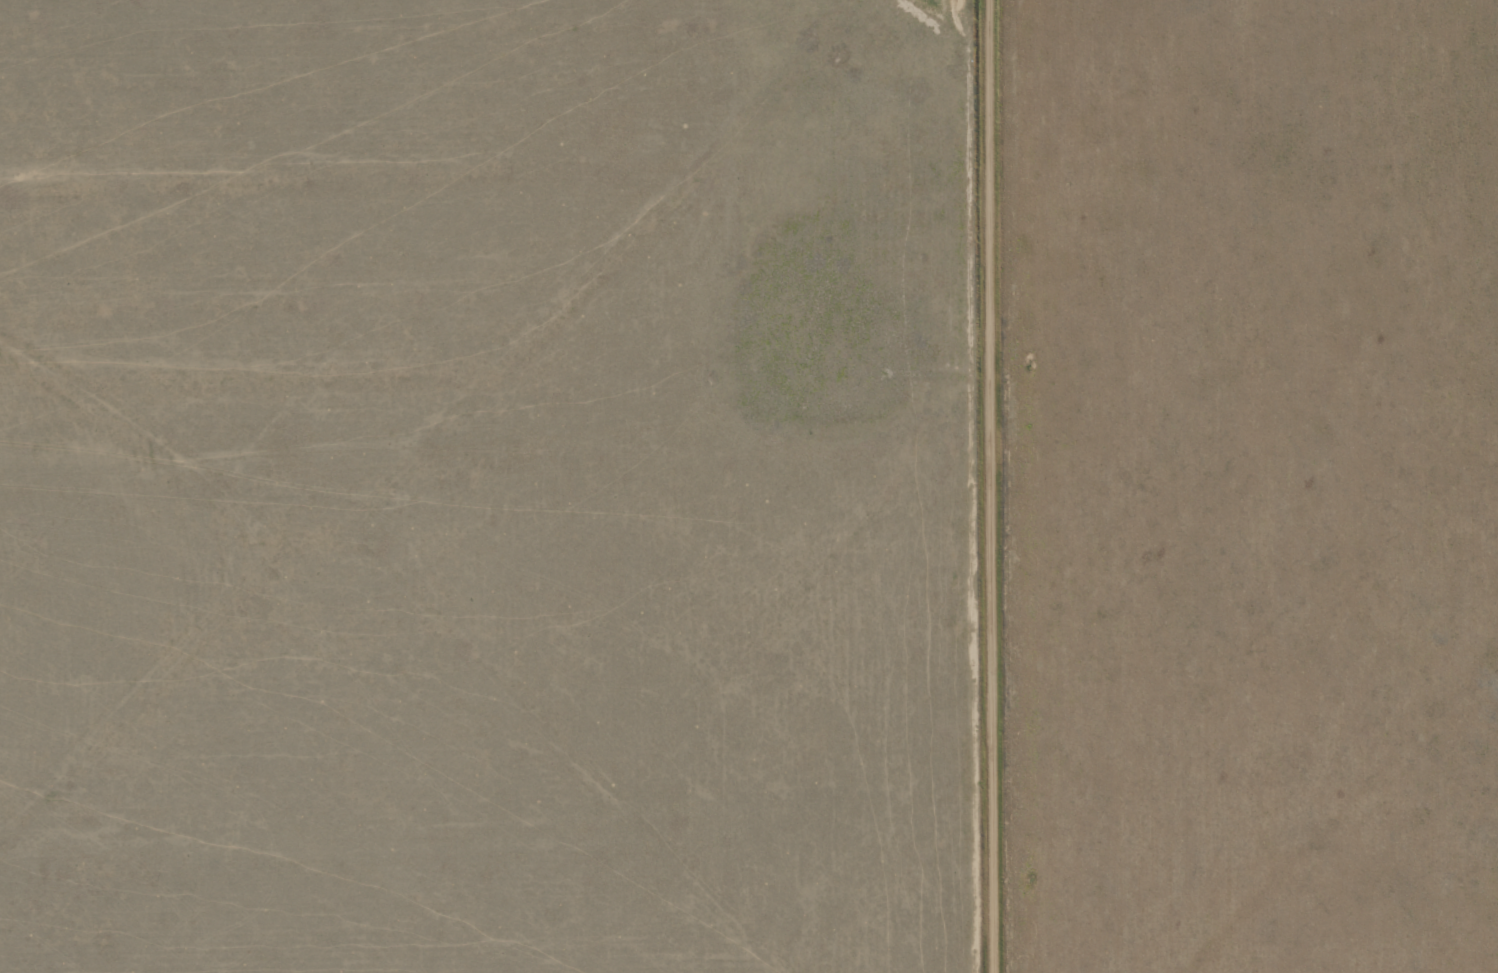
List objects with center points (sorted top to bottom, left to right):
road: (995, 486)

